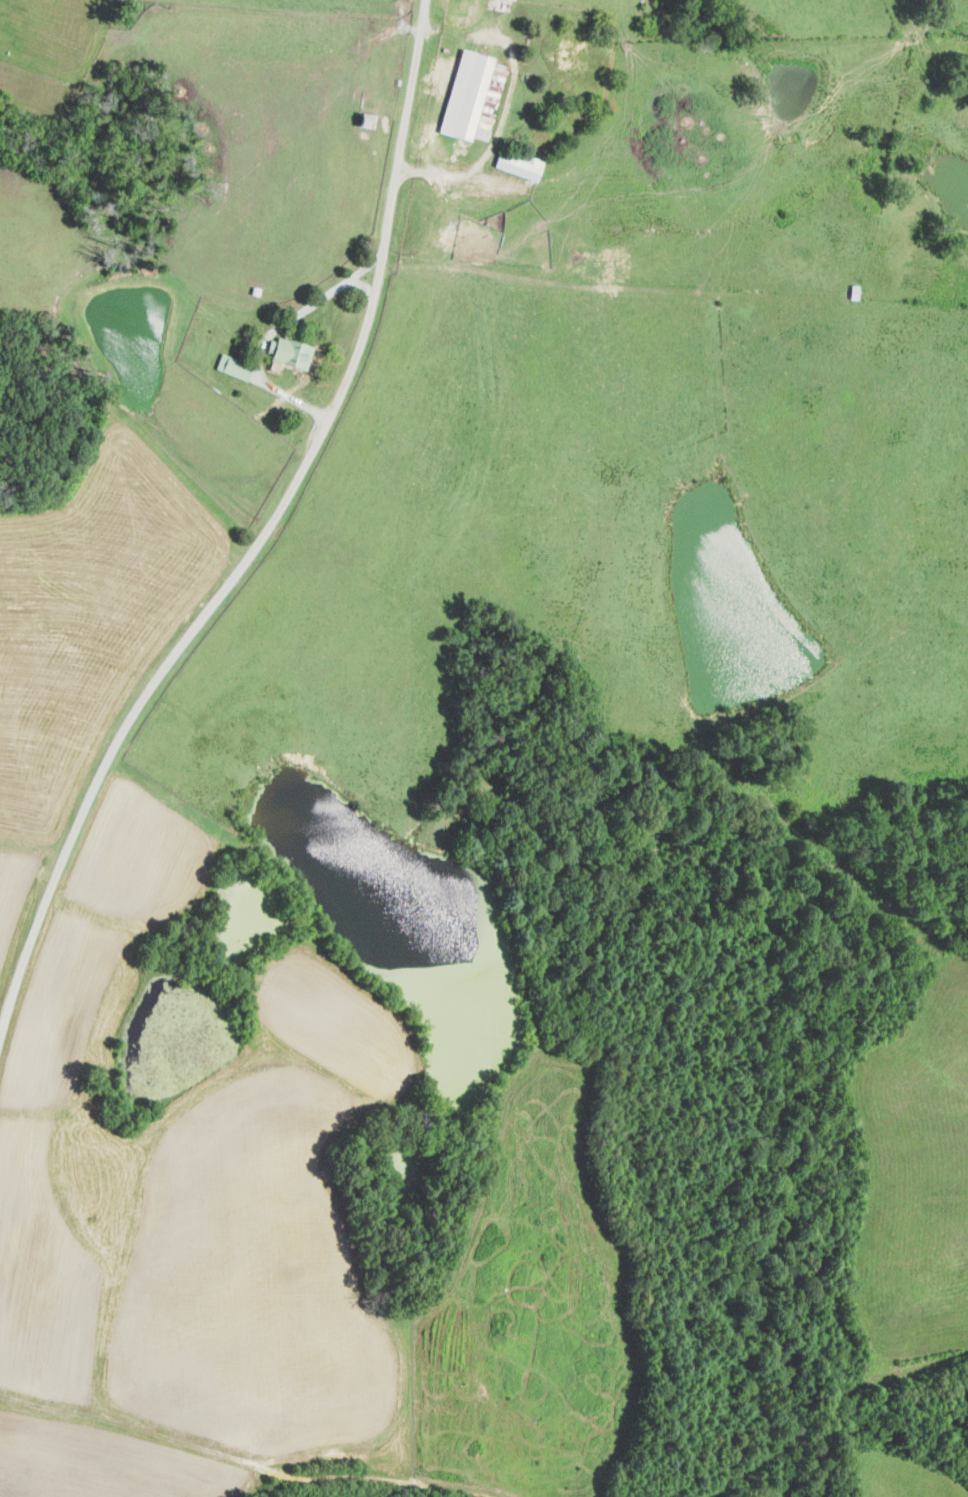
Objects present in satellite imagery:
building: (569, 49)
building: (470, 96)
road: (493, 141)
building: (516, 164)
building: (456, 236)
building: (582, 262)
road: (364, 285)
road: (272, 332)
building: (289, 351)
building: (231, 366)
road: (262, 540)

